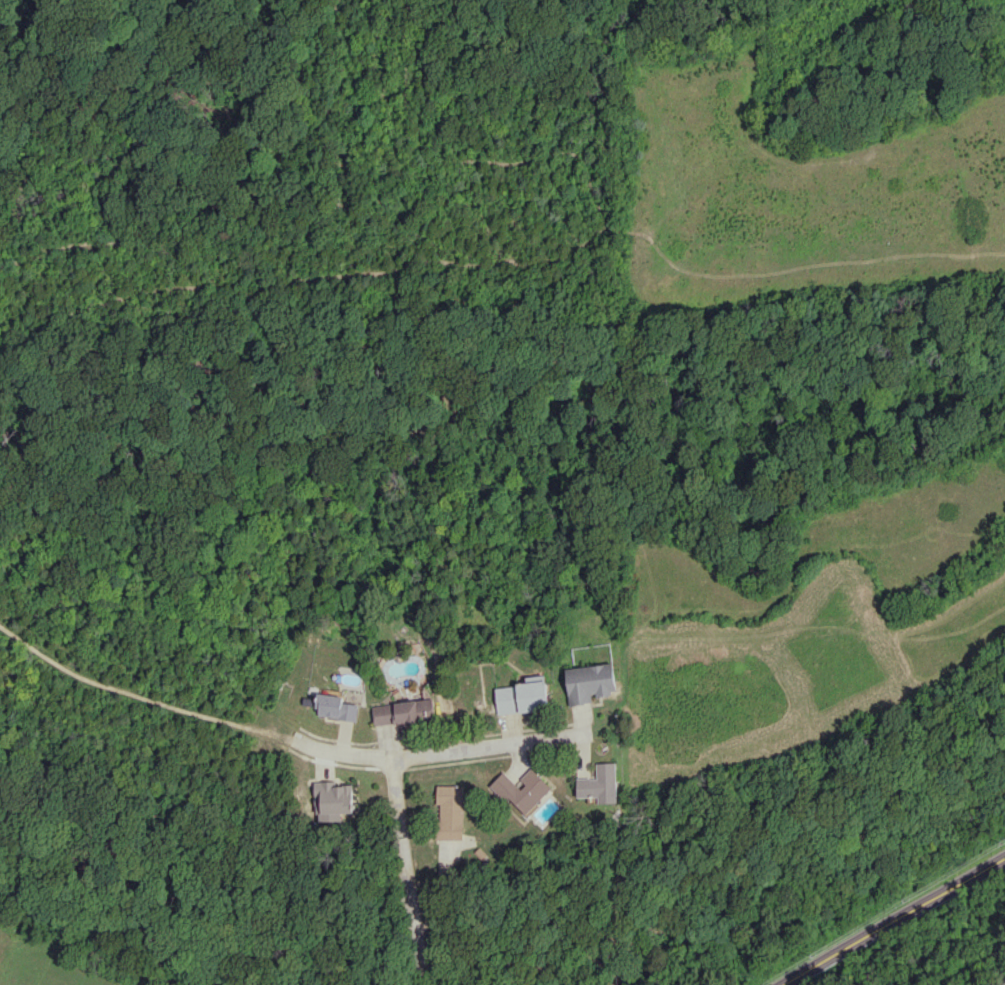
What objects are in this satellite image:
building: (589, 682)
building: (521, 697)
building: (334, 707)
building: (426, 708)
building: (394, 713)
road: (441, 750)
building: (600, 784)
building: (523, 790)
building: (332, 801)
building: (451, 811)
road: (405, 871)
road: (892, 919)

